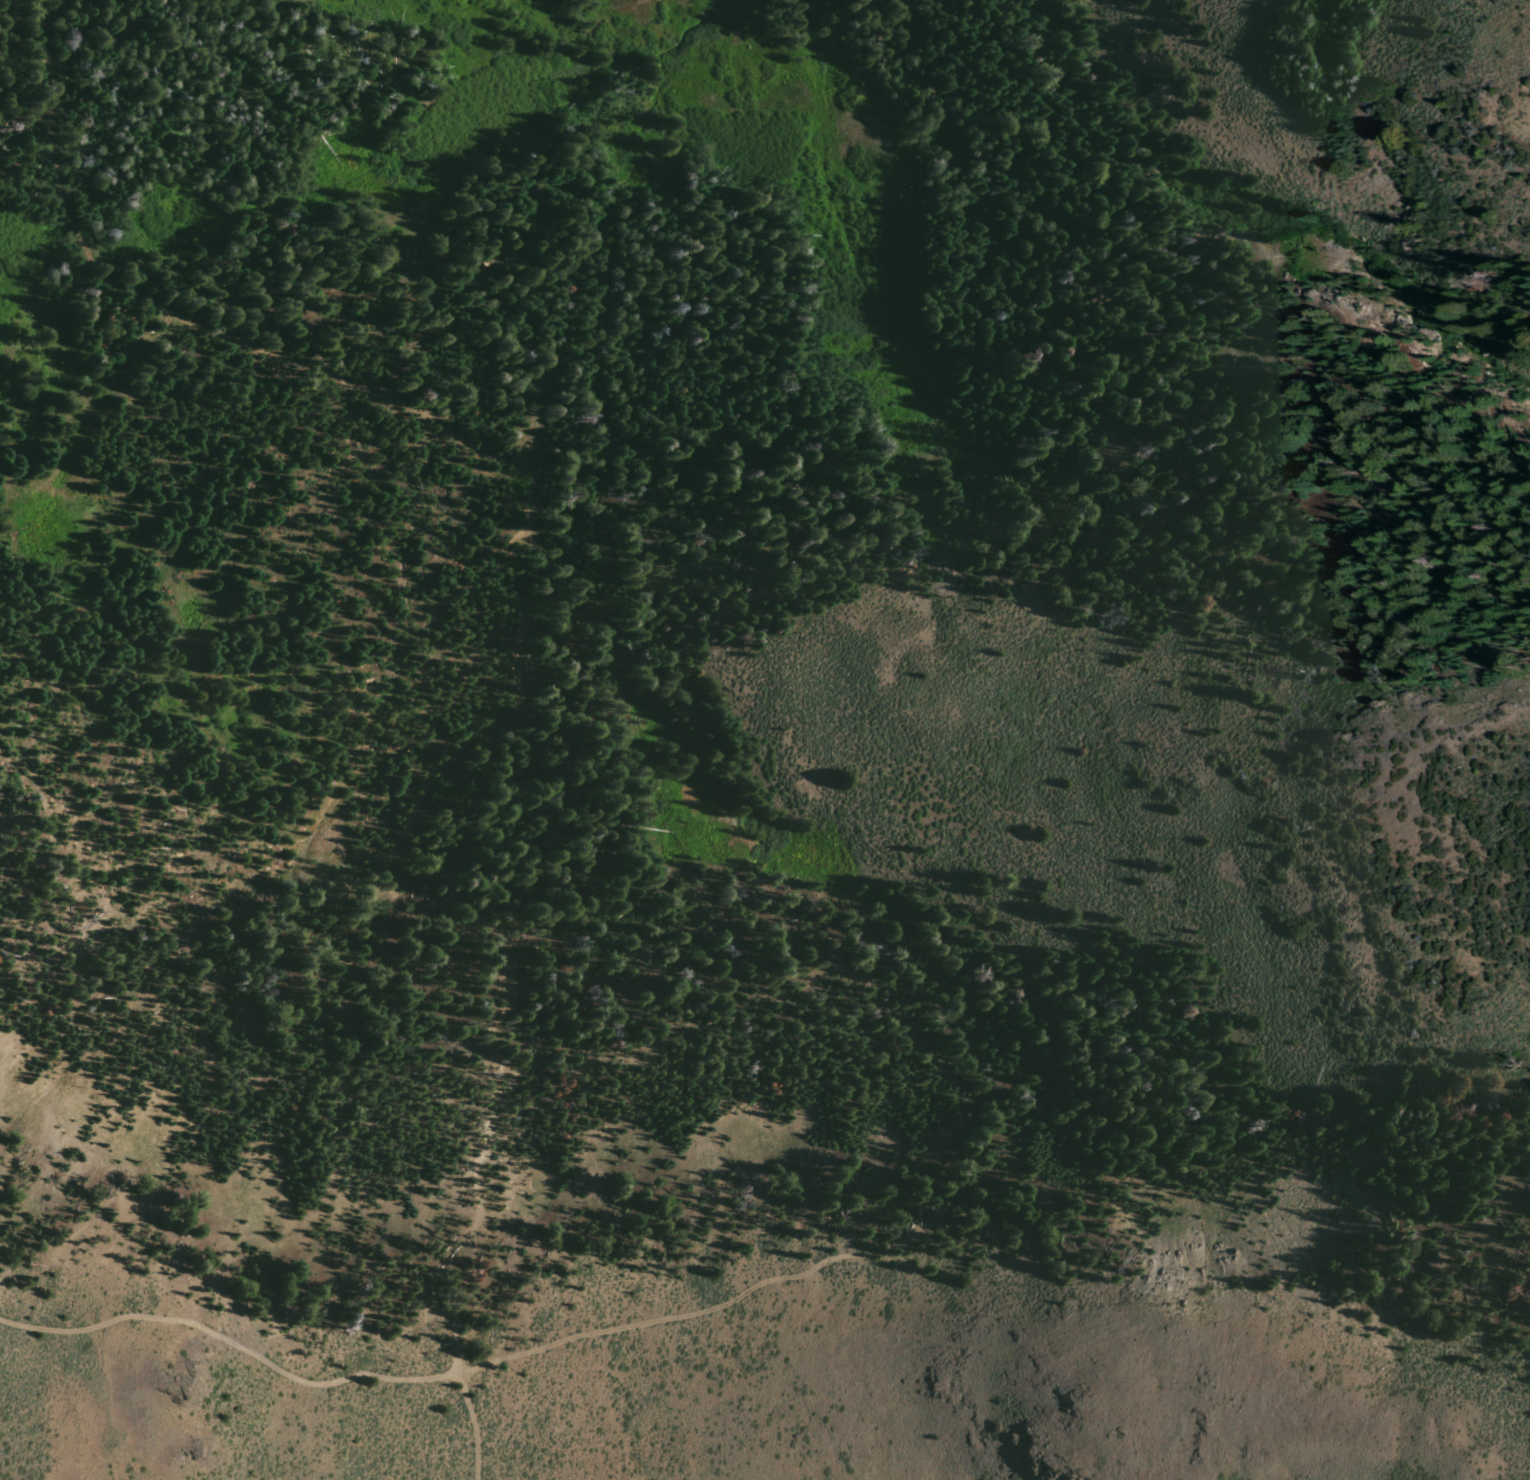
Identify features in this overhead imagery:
road: (598, 580)
road: (456, 1383)
road: (485, 1428)

